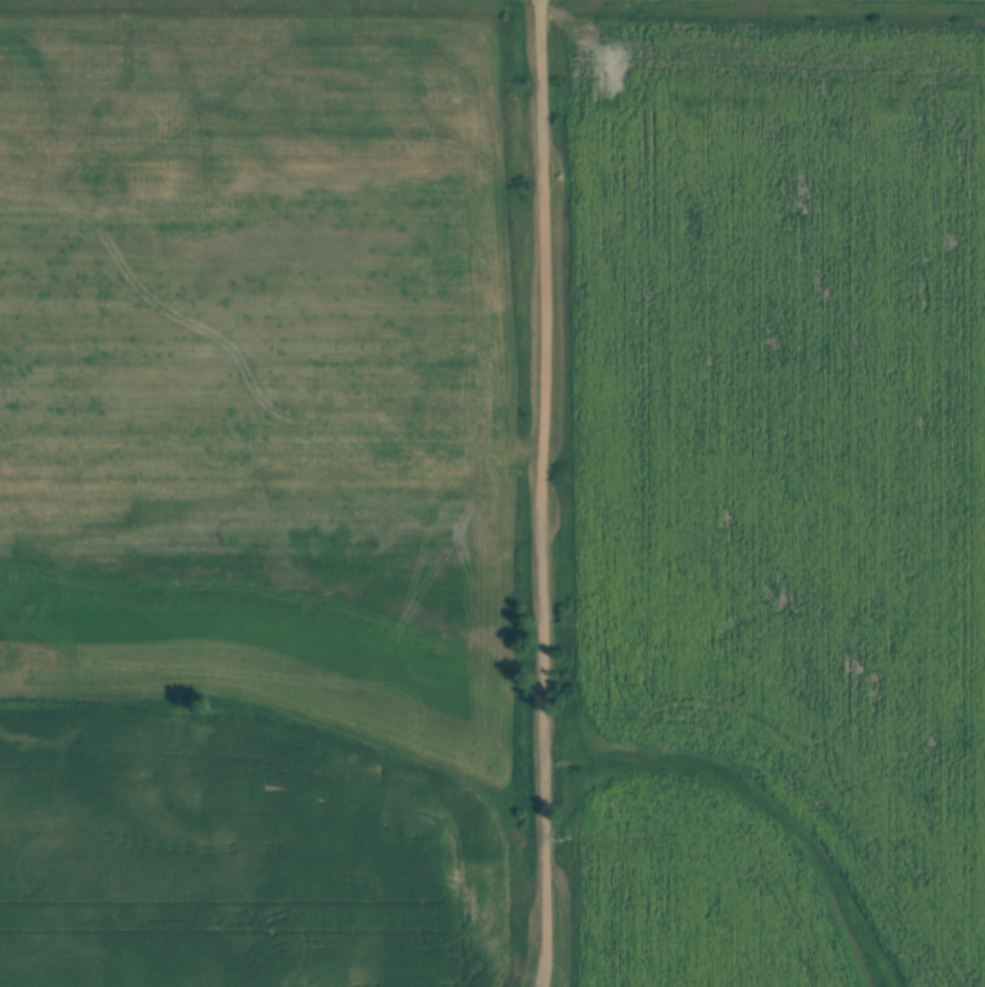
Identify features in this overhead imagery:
road: (540, 493)

